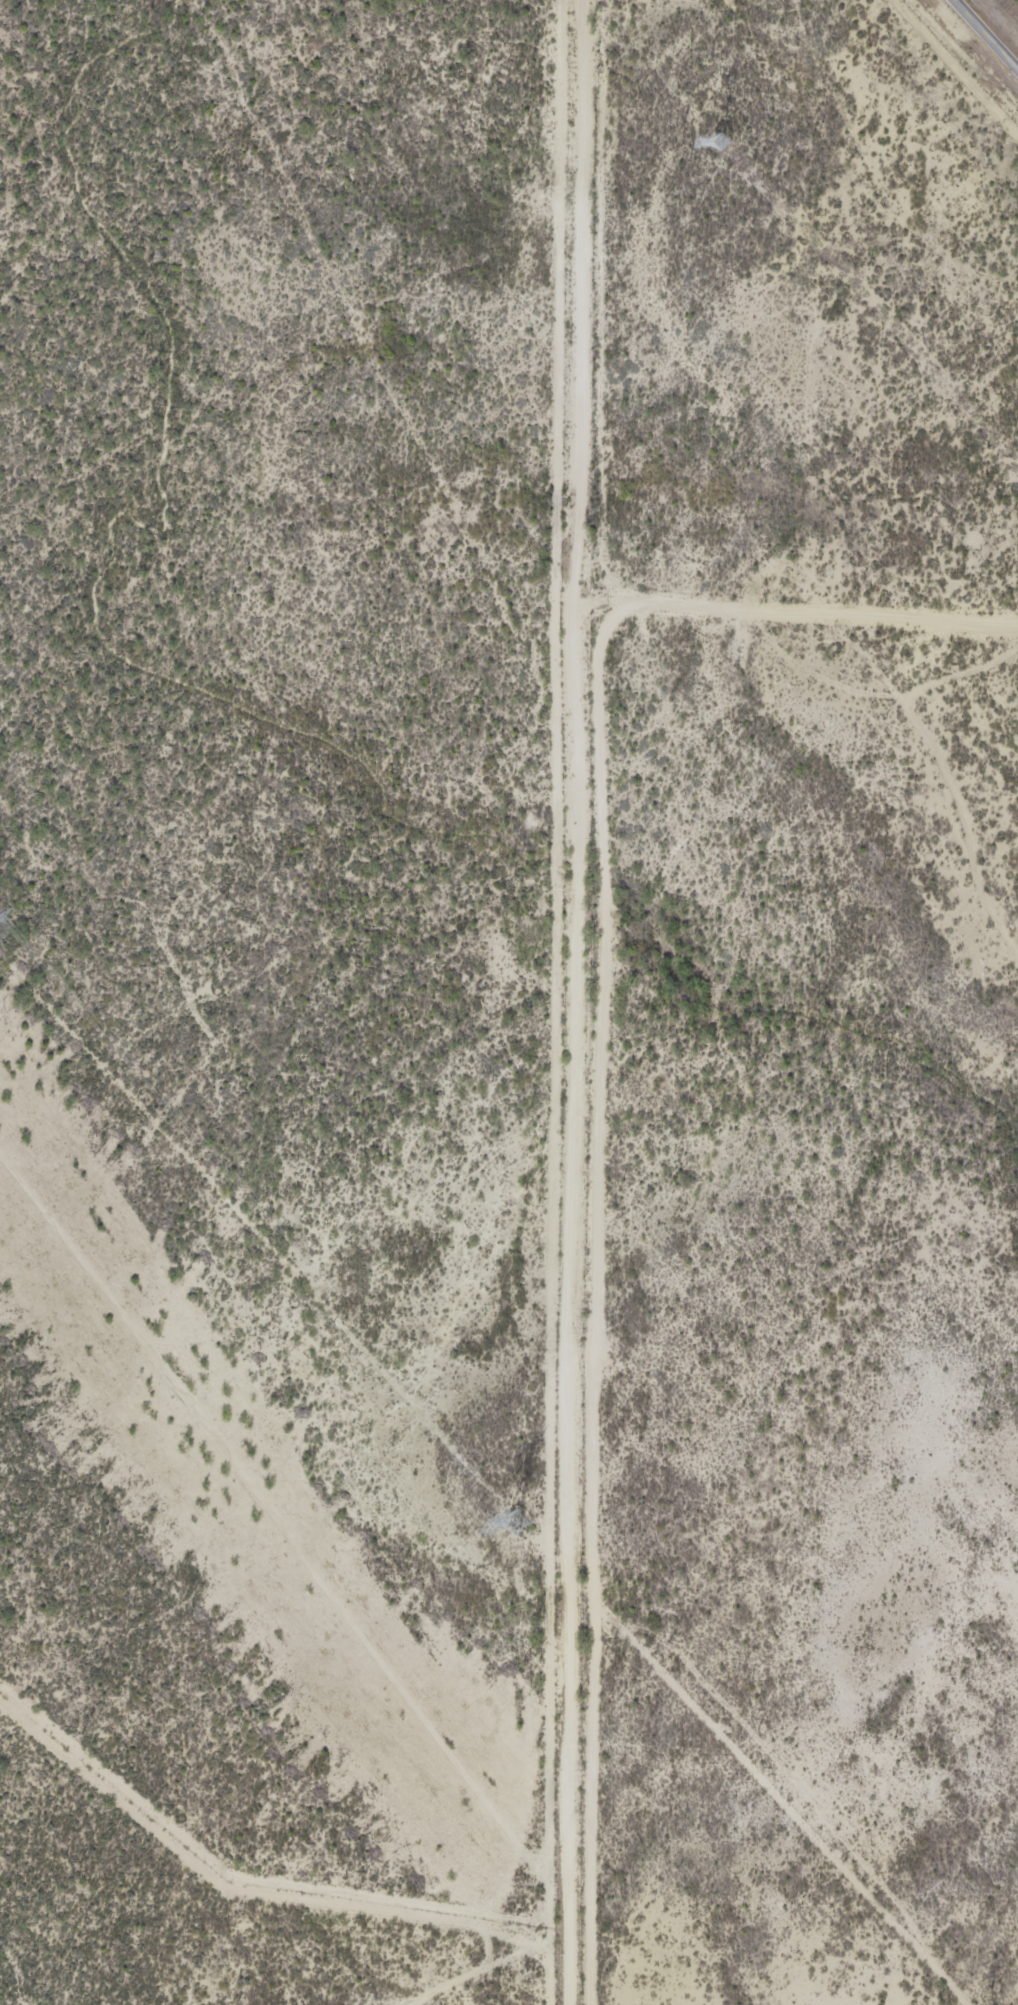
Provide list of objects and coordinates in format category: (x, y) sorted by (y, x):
power tower: (716, 143)
power tower: (520, 1521)

